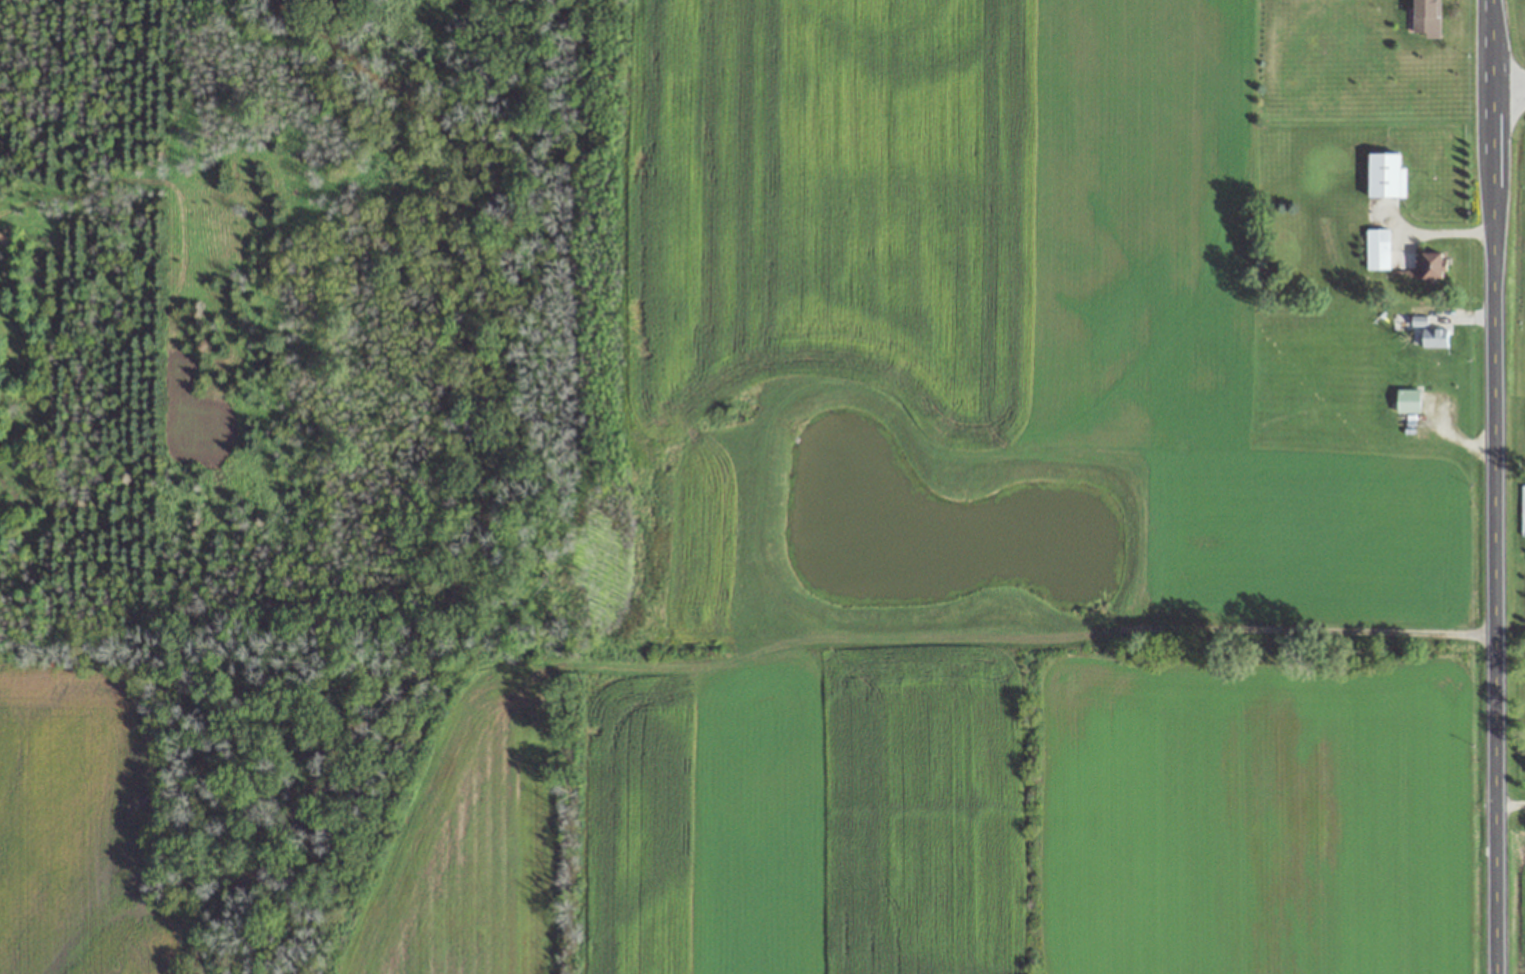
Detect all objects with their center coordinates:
building: (1426, 17)
road: (1508, 86)
building: (1386, 175)
building: (1378, 249)
building: (1432, 265)
building: (1435, 338)
building: (1407, 401)
road: (1494, 486)

